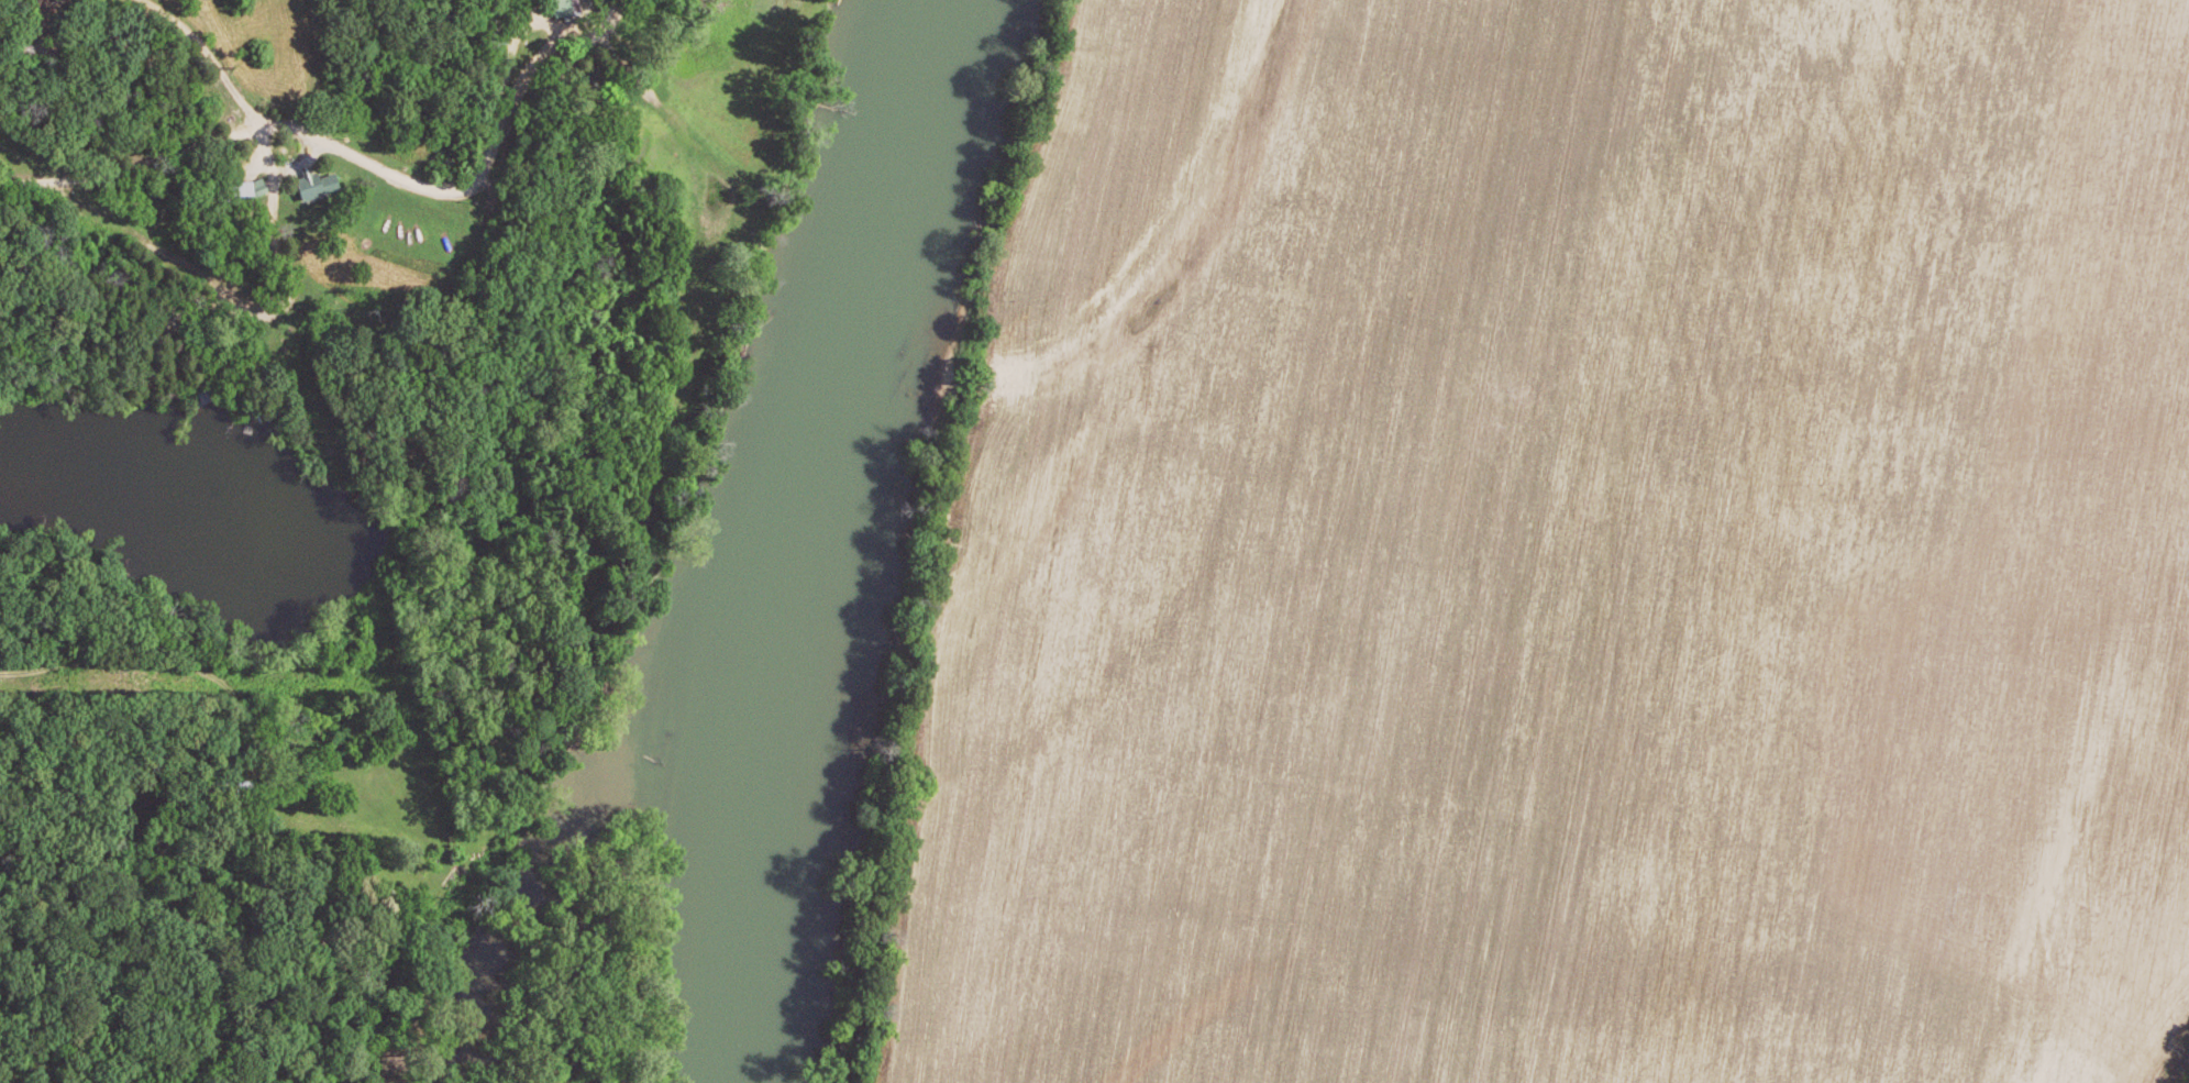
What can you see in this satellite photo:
building: (566, 10)
road: (280, 164)
road: (131, 172)
building: (321, 187)
building: (242, 192)
road: (474, 194)
road: (281, 263)
river: (797, 537)
road: (197, 690)
building: (454, 880)

